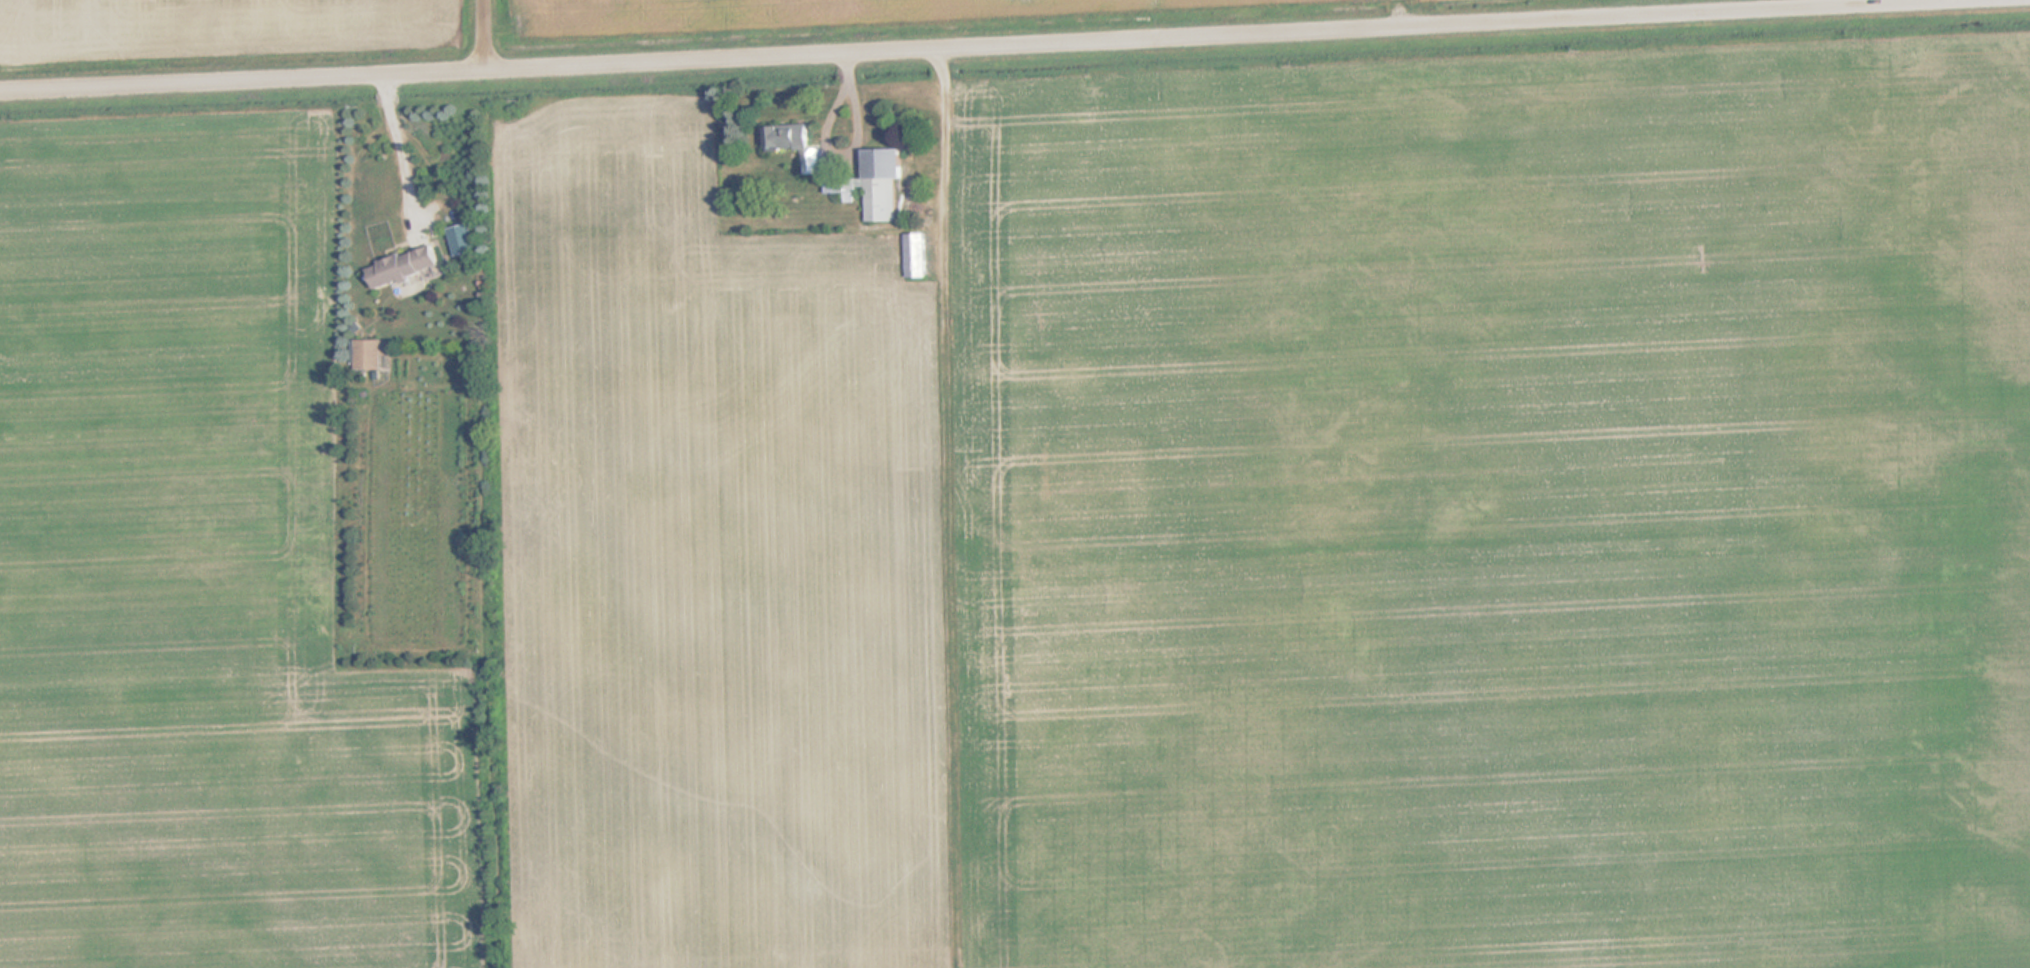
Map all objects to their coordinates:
road: (486, 36)
road: (977, 47)
building: (790, 137)
building: (884, 183)
building: (842, 186)
building: (464, 239)
building: (917, 255)
building: (407, 266)
building: (372, 353)

